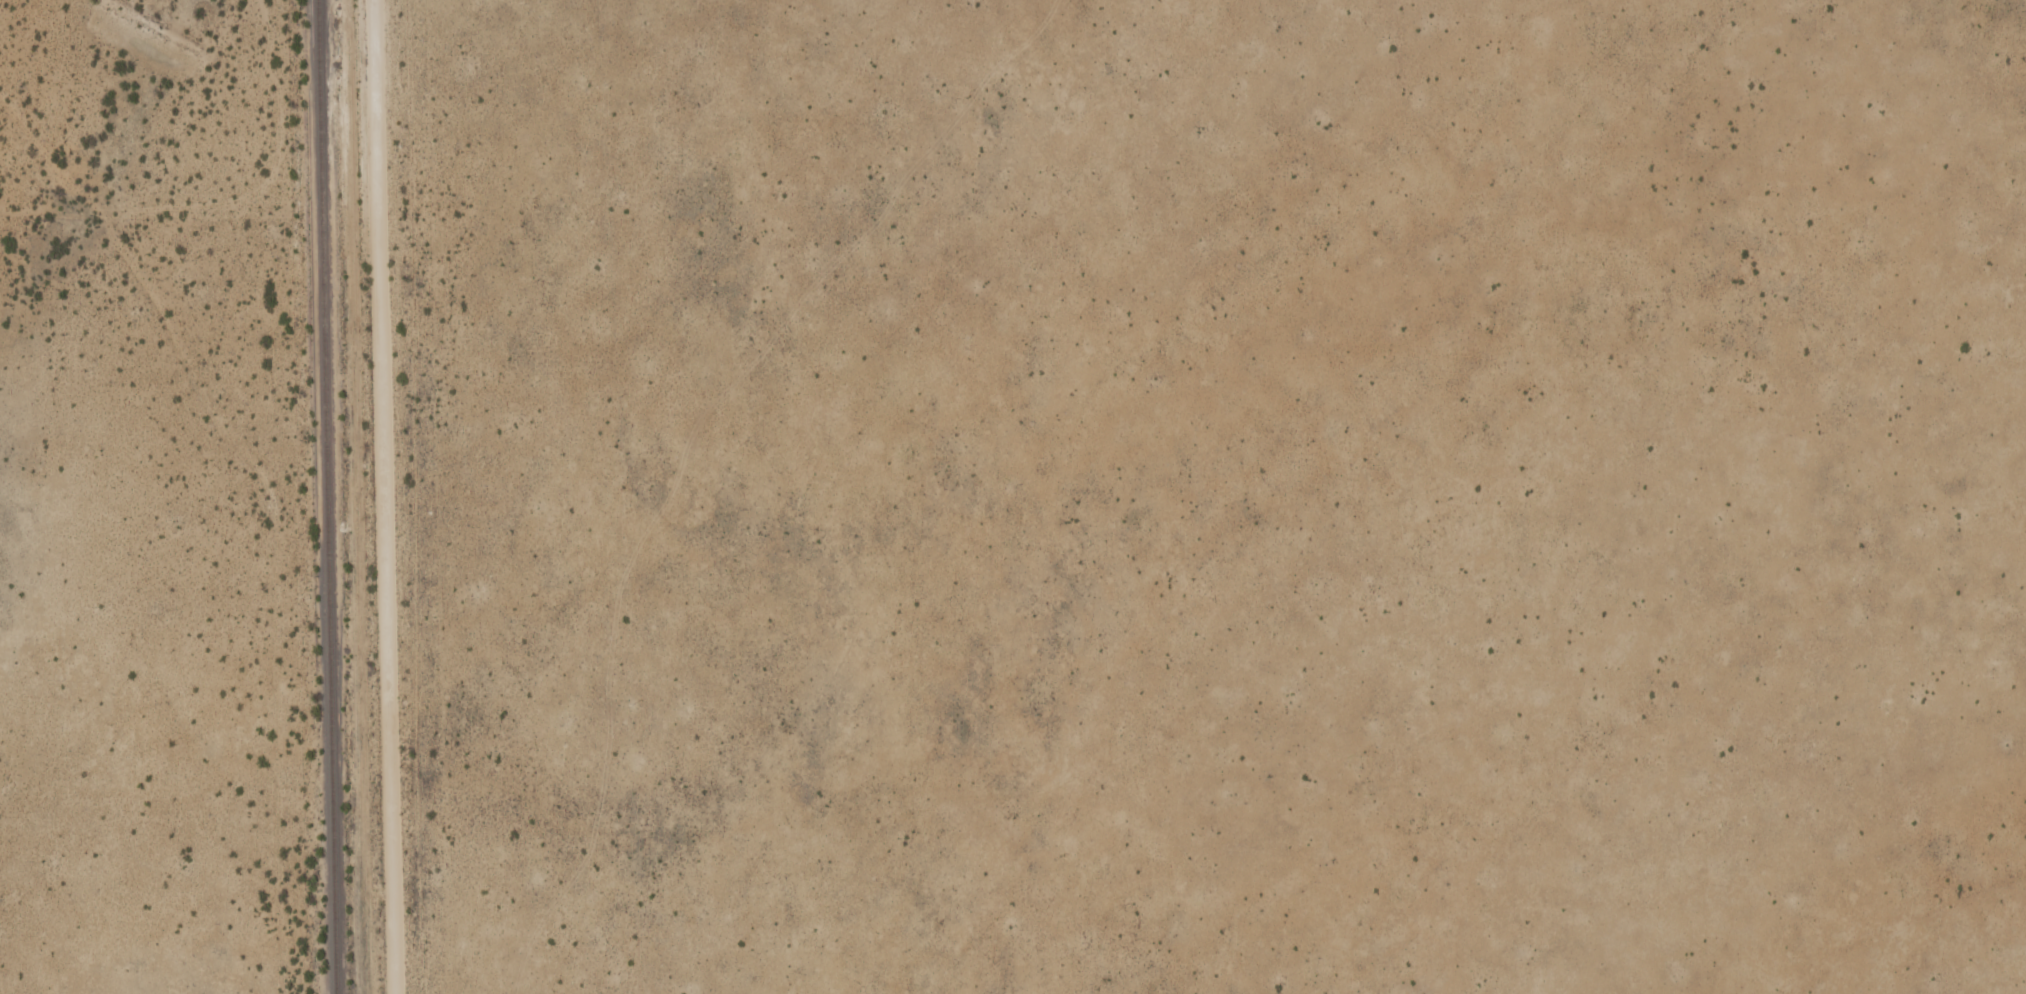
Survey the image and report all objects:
railway: (326, 497)
road: (384, 497)
road: (194, 585)

